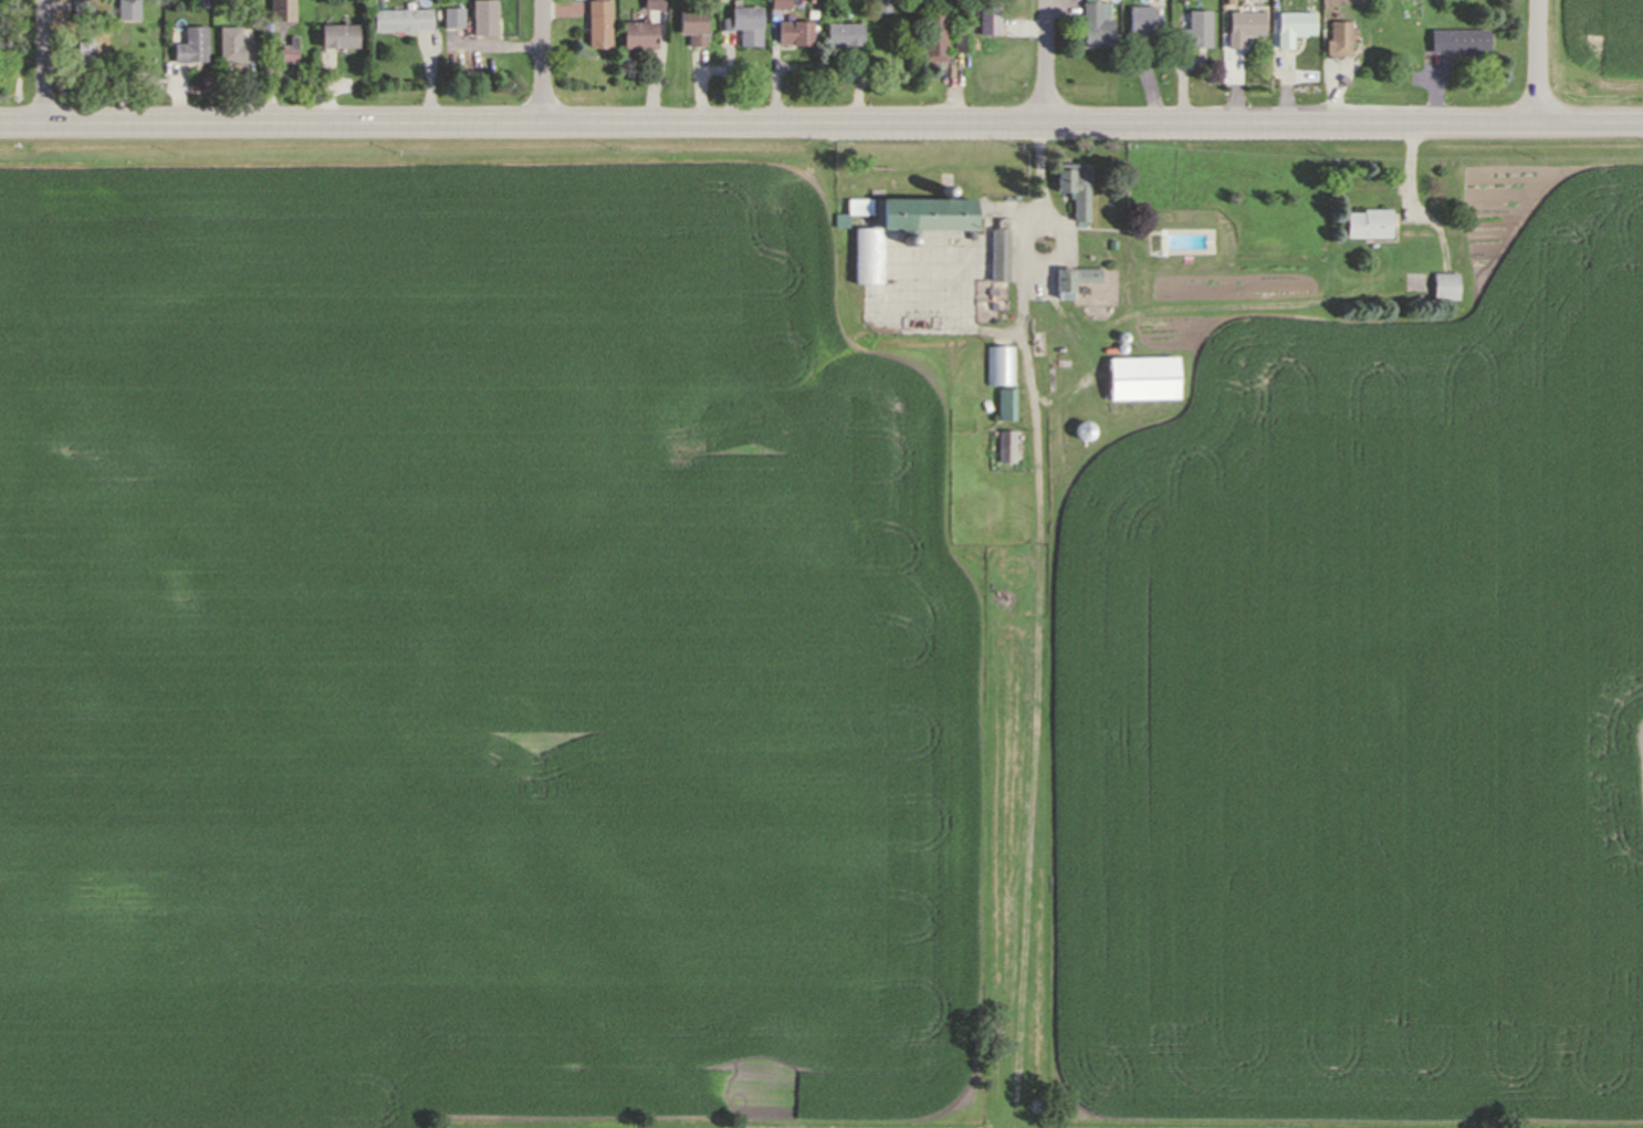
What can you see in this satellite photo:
building: (1226, 0)
building: (651, 3)
building: (778, 3)
building: (880, 6)
building: (126, 8)
building: (82, 10)
building: (276, 10)
building: (450, 17)
building: (480, 17)
building: (396, 18)
building: (988, 21)
building: (596, 22)
building: (1143, 22)
building: (1097, 23)
building: (1294, 25)
building: (742, 27)
building: (1243, 27)
building: (691, 28)
building: (1194, 30)
building: (636, 33)
building: (931, 34)
building: (1337, 35)
building: (795, 36)
building: (841, 36)
building: (956, 36)
building: (336, 39)
building: (1457, 40)
building: (189, 44)
building: (229, 44)
building: (287, 48)
building: (84, 50)
road: (46, 62)
road: (1539, 62)
road: (545, 63)
road: (1048, 63)
road: (820, 127)
road: (1042, 186)
building: (945, 188)
building: (1072, 190)
building: (838, 220)
building: (1365, 223)
building: (908, 239)
building: (1108, 244)
building: (996, 253)
building: (867, 261)
building: (1085, 275)
building: (1060, 284)
building: (1442, 285)
building: (1080, 289)
building: (990, 291)
building: (1416, 297)
building: (990, 305)
building: (1034, 313)
building: (1122, 336)
building: (1120, 346)
building: (997, 367)
building: (1139, 378)
building: (1003, 405)
building: (1085, 431)
building: (1002, 448)

